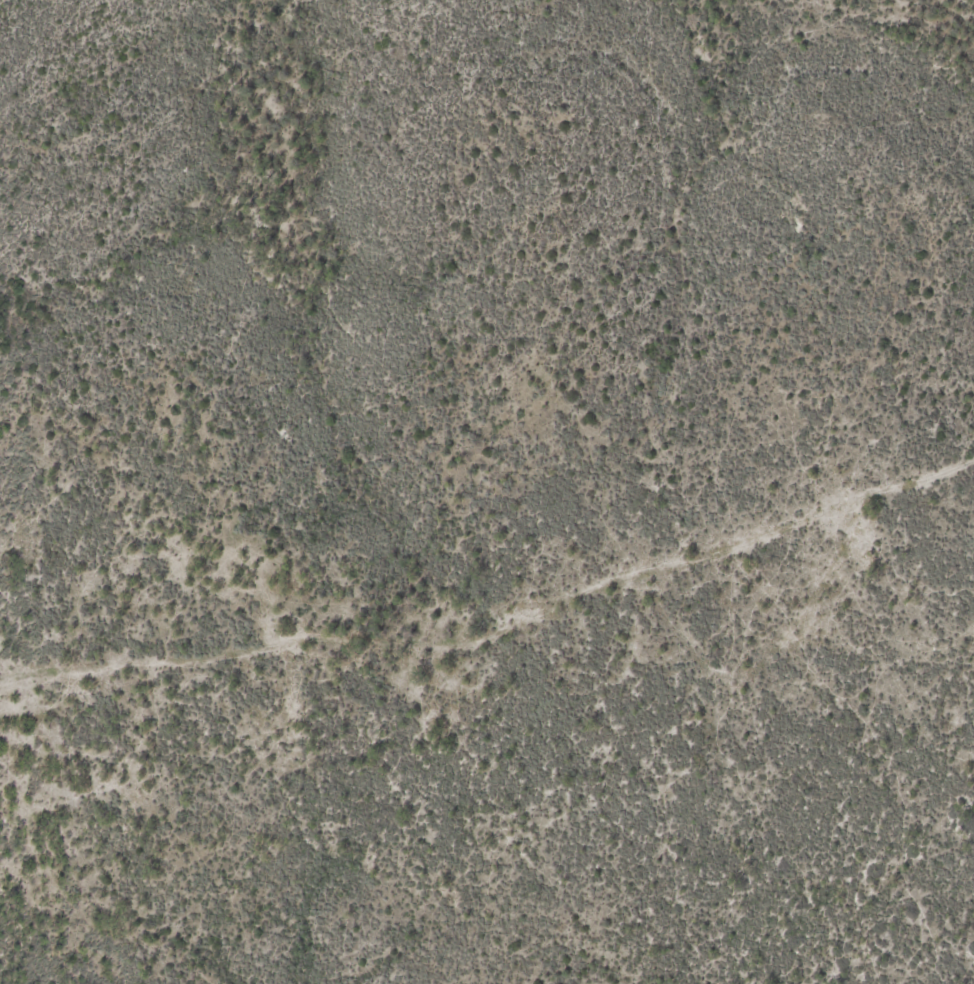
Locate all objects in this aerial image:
road: (502, 637)

